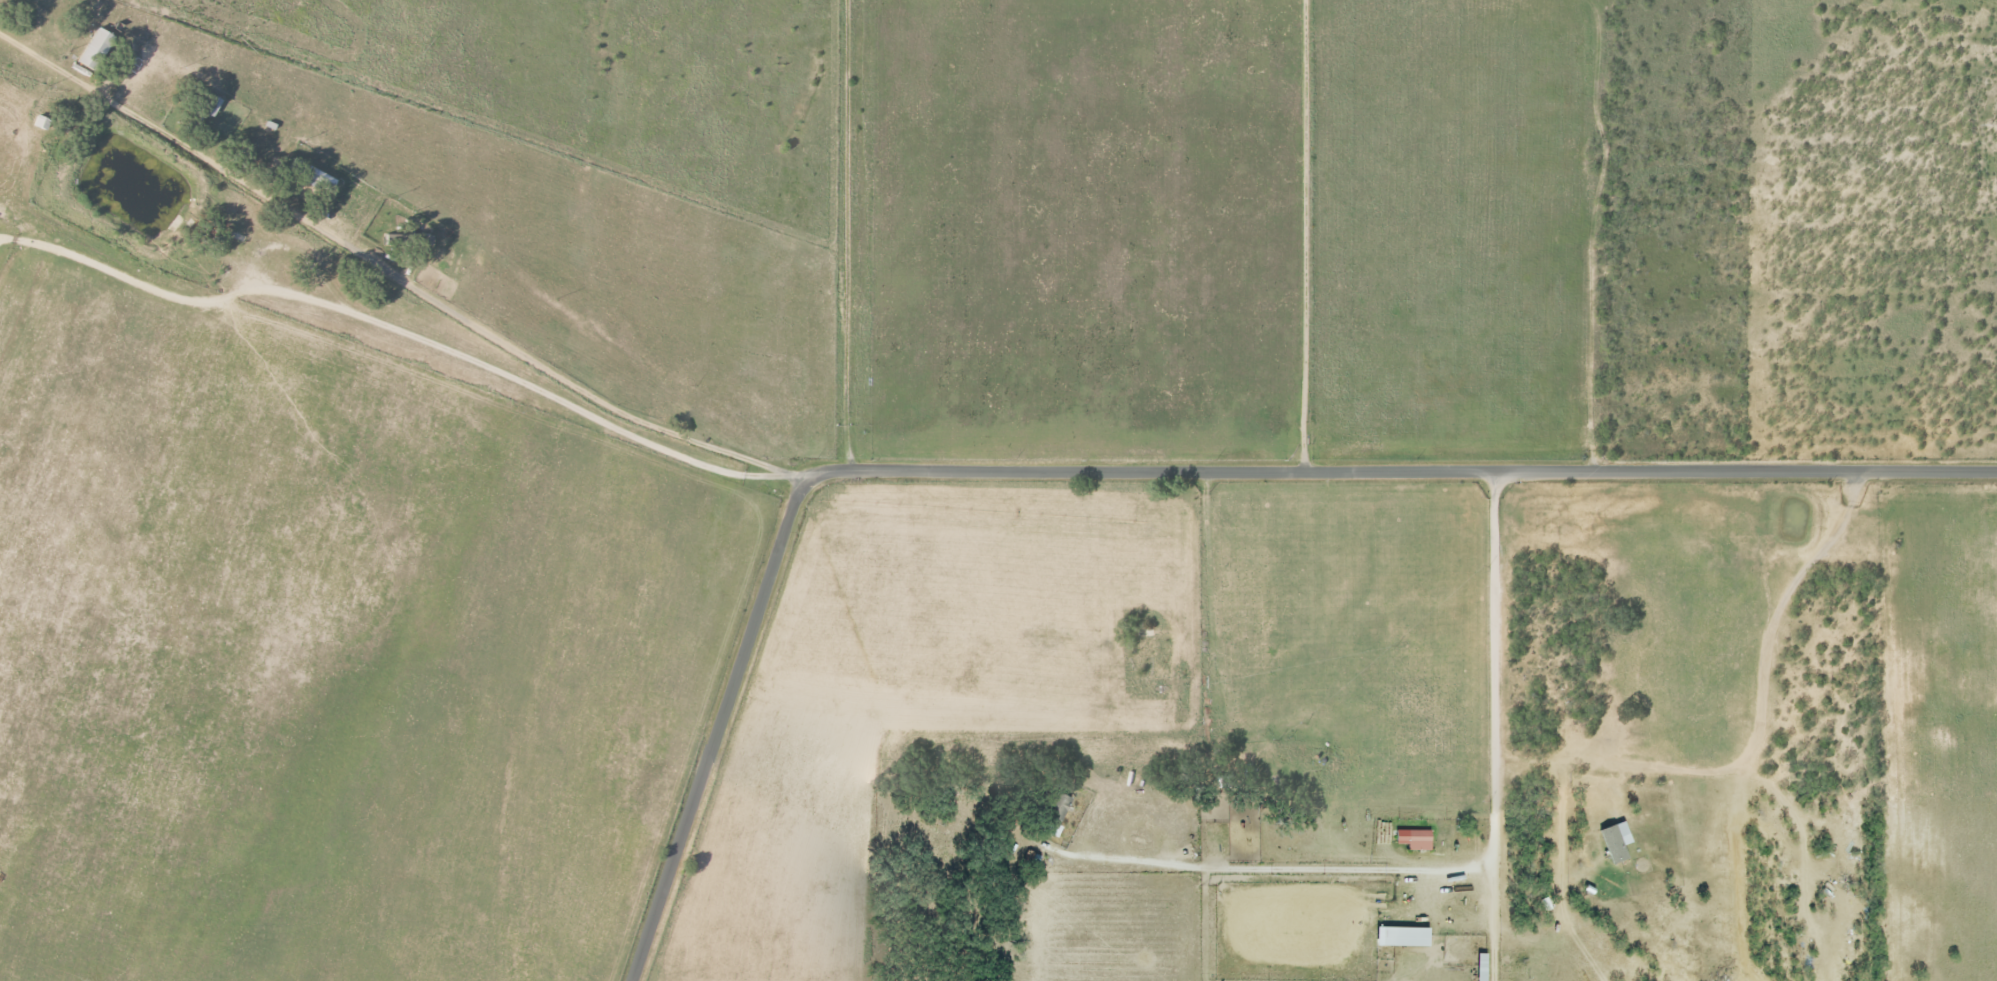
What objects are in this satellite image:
building: (96, 50)
power tower: (1995, 123)
road: (1303, 236)
road: (388, 282)
road: (391, 329)
road: (1134, 470)
road: (1759, 705)
road: (1498, 724)
building: (1412, 839)
building: (1614, 841)
road: (1560, 850)
road: (1223, 867)
road: (1449, 870)
building: (1400, 936)

